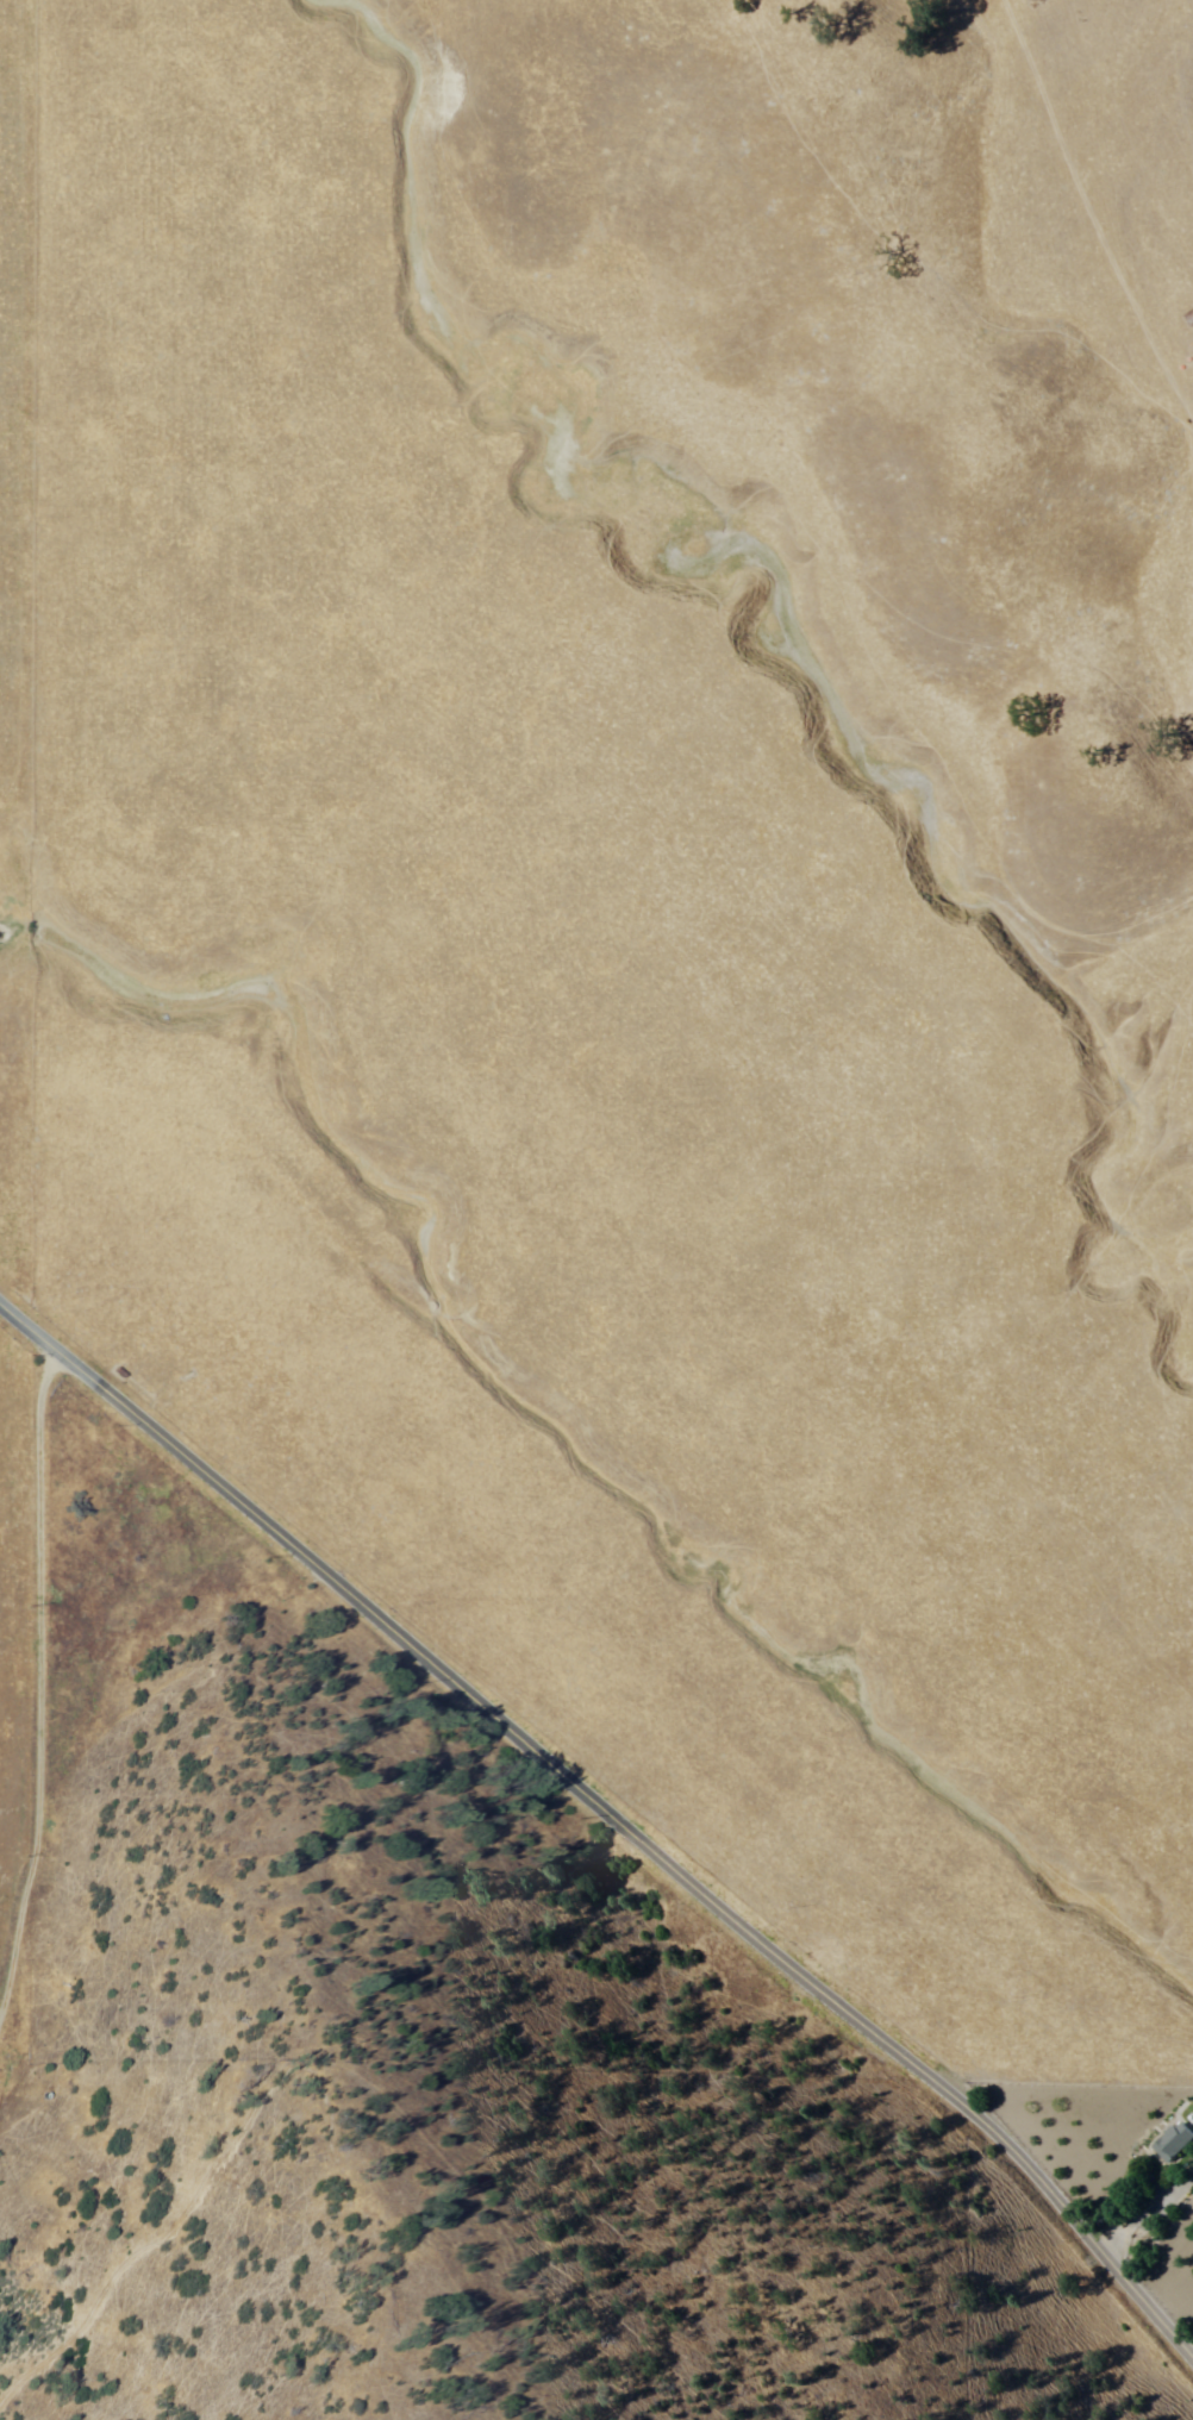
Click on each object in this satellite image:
crop: (560, 1087)
crop: (13, 1619)
road: (38, 1676)
road: (612, 1814)
building: (1168, 2141)

